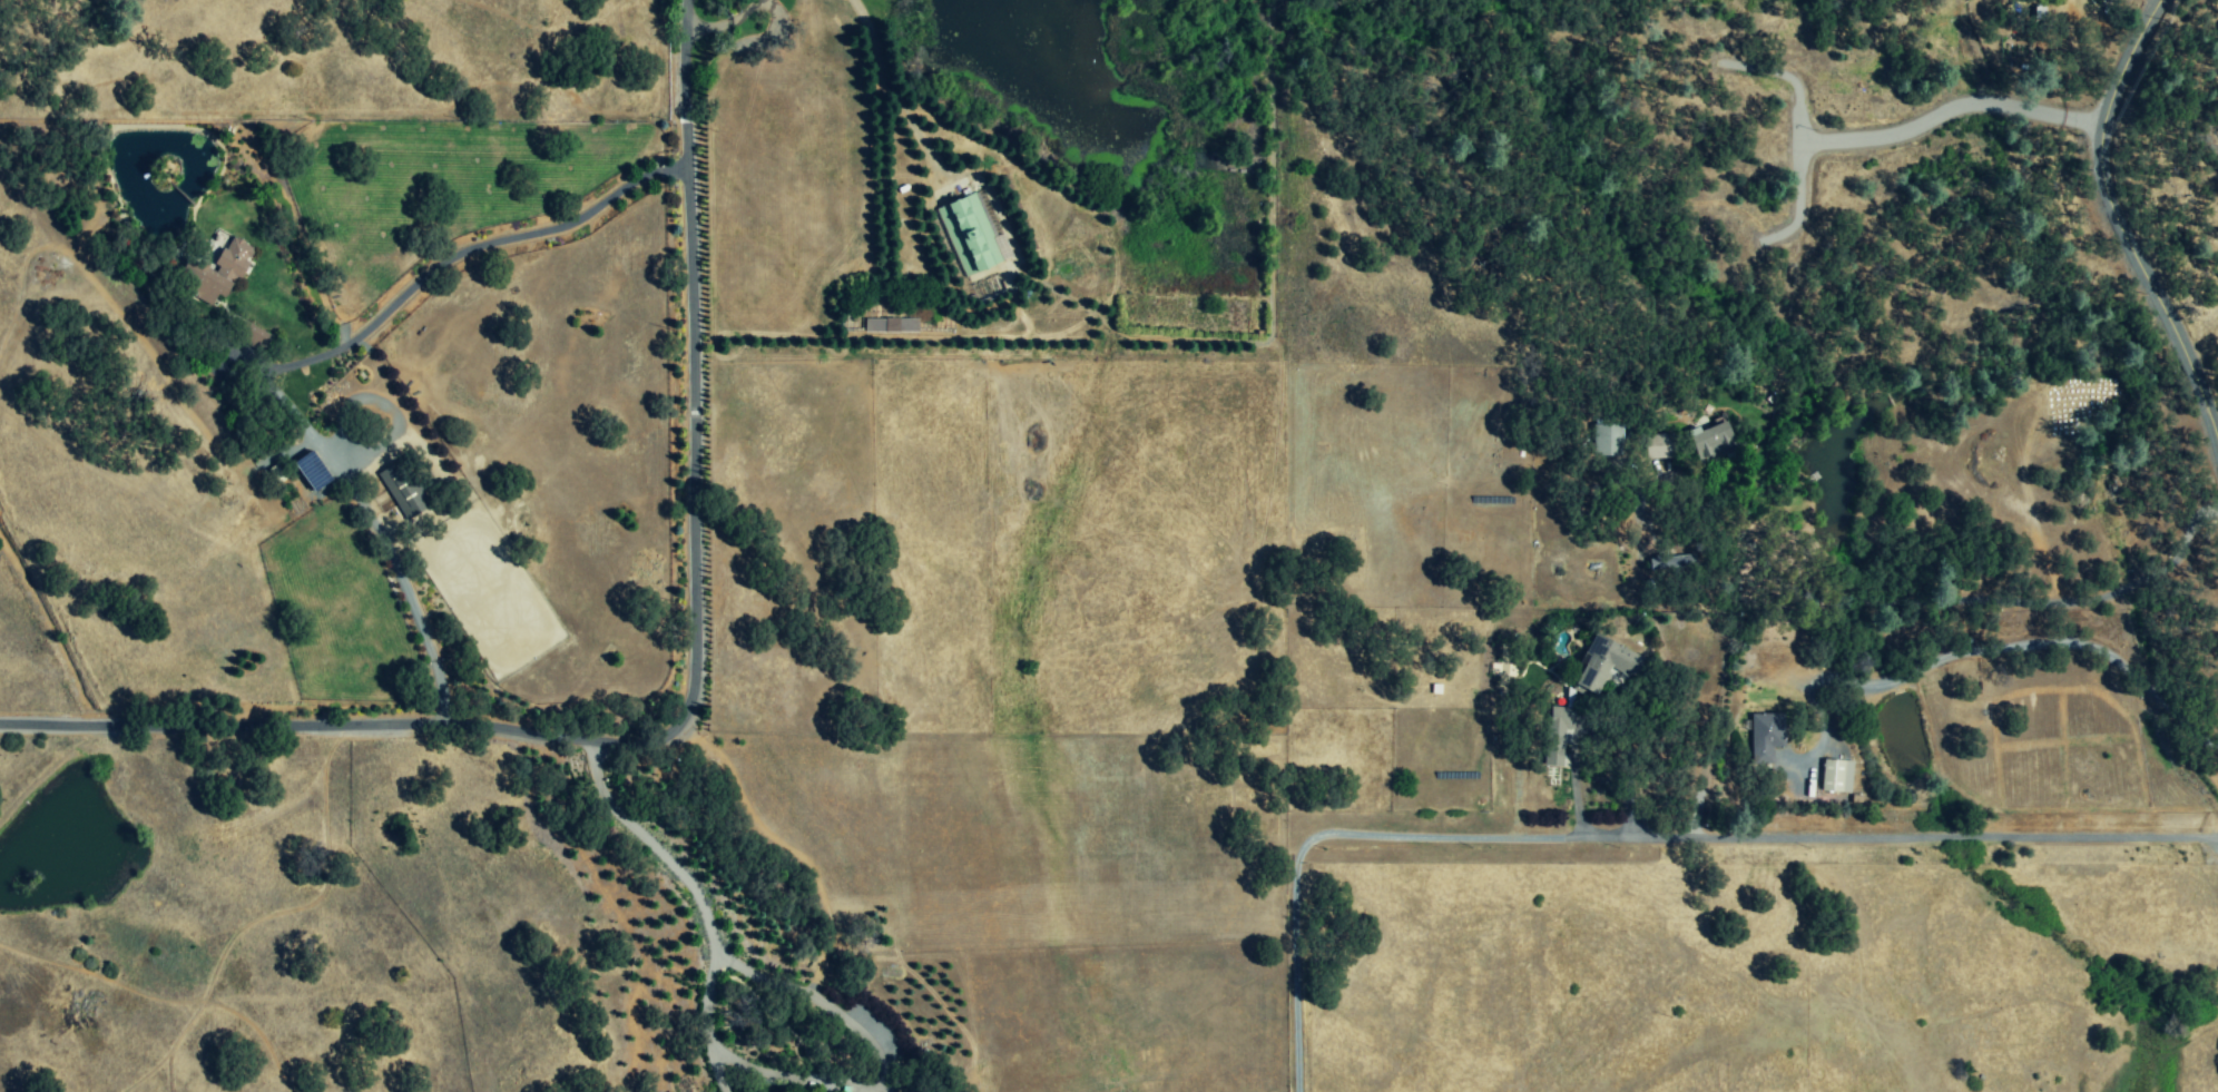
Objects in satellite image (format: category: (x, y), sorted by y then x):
road: (1885, 135)
road: (2118, 224)
building: (970, 235)
building: (222, 270)
building: (891, 325)
building: (257, 338)
road: (331, 357)
building: (1610, 439)
building: (1712, 441)
building: (1661, 446)
building: (312, 471)
building: (403, 494)
building: (1674, 565)
road: (1988, 600)
road: (2005, 646)
building: (1604, 663)
road: (683, 700)
building: (1555, 732)
building: (1766, 736)
building: (1835, 776)
road: (1571, 780)
road: (1635, 838)
road: (733, 1060)

